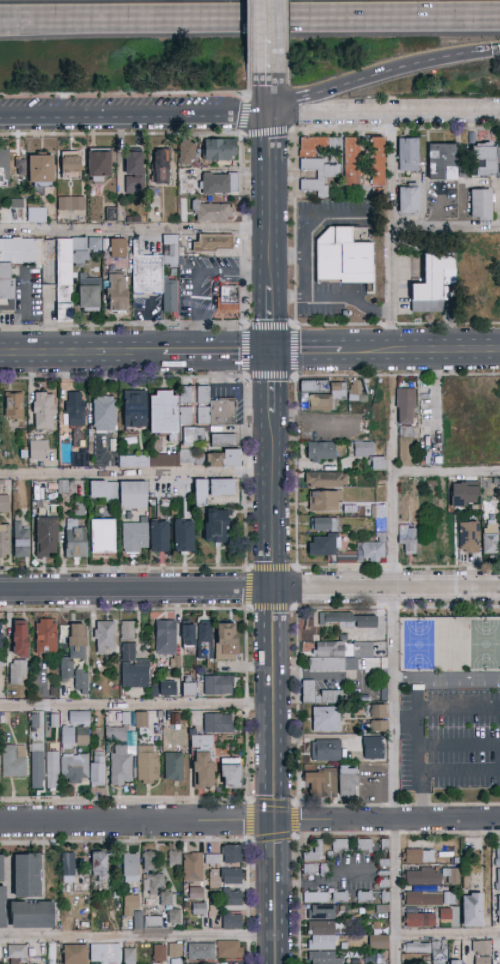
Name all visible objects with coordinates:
road: (249, 22)
road: (270, 44)
road: (496, 52)
road: (378, 76)
road: (135, 115)
traffic signals: (270, 116)
road: (385, 116)
road: (448, 128)
road: (330, 129)
road: (389, 129)
building: (220, 149)
building: (188, 153)
building: (408, 155)
building: (352, 159)
building: (485, 161)
building: (377, 162)
building: (442, 162)
building: (317, 164)
building: (1, 165)
building: (70, 165)
building: (100, 165)
building: (160, 167)
building: (41, 171)
building: (133, 172)
building: (219, 184)
building: (408, 201)
building: (71, 203)
building: (481, 204)
building: (213, 212)
building: (36, 215)
road: (270, 220)
road: (306, 224)
road: (135, 227)
road: (293, 227)
road: (444, 228)
road: (389, 232)
building: (213, 243)
building: (117, 248)
road: (288, 254)
building: (49, 255)
building: (343, 257)
building: (156, 272)
building: (65, 277)
road: (198, 277)
building: (433, 282)
building: (7, 289)
building: (117, 292)
building: (89, 294)
road: (332, 294)
building: (227, 301)
road: (449, 323)
road: (332, 324)
road: (390, 324)
road: (424, 349)
road: (309, 350)
traffic signals: (270, 351)
road: (291, 351)
road: (221, 353)
road: (86, 355)
road: (396, 374)
road: (390, 388)
building: (353, 389)
building: (323, 393)
building: (185, 405)
building: (406, 406)
building: (13, 407)
building: (74, 409)
building: (135, 409)
building: (214, 409)
building: (43, 411)
building: (164, 412)
building: (104, 413)
road: (313, 416)
building: (193, 436)
road: (392, 436)
building: (223, 440)
building: (405, 447)
building: (38, 450)
building: (320, 452)
building: (369, 454)
building: (197, 457)
building: (80, 458)
building: (162, 458)
building: (224, 459)
building: (131, 460)
road: (446, 471)
road: (135, 472)
road: (295, 476)
building: (325, 480)
building: (222, 487)
building: (200, 488)
building: (120, 493)
building: (464, 494)
building: (325, 501)
building: (4, 503)
building: (489, 510)
building: (378, 511)
building: (324, 524)
building: (215, 527)
building: (184, 535)
building: (103, 536)
building: (46, 537)
building: (159, 537)
building: (468, 537)
building: (135, 538)
building: (408, 538)
building: (21, 539)
building: (490, 539)
building: (75, 540)
building: (4, 541)
building: (322, 547)
road: (342, 567)
road: (391, 567)
road: (449, 567)
road: (271, 585)
road: (250, 589)
road: (449, 607)
road: (391, 608)
building: (347, 620)
building: (127, 630)
building: (1, 635)
building: (46, 636)
building: (188, 636)
building: (105, 637)
building: (165, 637)
building: (205, 640)
building: (20, 641)
building: (76, 641)
building: (226, 641)
park: (485, 644)
park: (419, 645)
building: (339, 655)
building: (0, 658)
building: (63, 668)
building: (133, 668)
building: (17, 672)
road: (446, 677)
building: (76, 678)
building: (218, 685)
building: (167, 690)
building: (188, 690)
building: (317, 694)
road: (136, 705)
road: (459, 708)
road: (297, 710)
building: (379, 718)
road: (393, 718)
building: (325, 719)
building: (141, 720)
building: (218, 723)
road: (406, 723)
building: (77, 730)
road: (459, 744)
building: (373, 748)
building: (325, 750)
building: (121, 755)
road: (418, 758)
building: (14, 760)
building: (147, 764)
building: (173, 766)
building: (44, 768)
building: (84, 768)
building: (204, 770)
road: (459, 770)
building: (231, 773)
building: (348, 782)
building: (319, 784)
road: (459, 803)
road: (409, 804)
road: (392, 805)
traffic signals: (273, 820)
road: (386, 820)
road: (136, 821)
road: (340, 834)
road: (393, 834)
road: (450, 834)
road: (249, 837)
building: (340, 845)
building: (364, 845)
building: (314, 852)
building: (384, 853)
building: (232, 854)
building: (496, 855)
building: (419, 856)
building: (174, 858)
building: (211, 859)
building: (149, 860)
building: (99, 866)
building: (193, 867)
building: (1, 868)
building: (68, 868)
building: (130, 868)
building: (498, 868)
building: (309, 869)
building: (27, 875)
building: (232, 876)
building: (432, 876)
road: (320, 880)
building: (384, 883)
building: (154, 884)
road: (274, 891)
building: (196, 893)
building: (364, 897)
building: (385, 897)
building: (163, 898)
building: (231, 898)
building: (325, 898)
building: (430, 898)
road: (298, 899)
building: (2, 906)
building: (199, 909)
building: (498, 909)
building: (472, 910)
building: (139, 914)
building: (32, 915)
building: (174, 917)
building: (424, 918)
building: (232, 922)
building: (321, 934)
road: (447, 934)
road: (137, 938)
building: (378, 942)
building: (216, 950)
building: (426, 950)
building: (13, 952)
building: (482, 952)
building: (104, 953)
building: (175, 953)
building: (75, 954)
building: (160, 954)
building: (130, 956)
building: (373, 958)
building: (454, 962)

